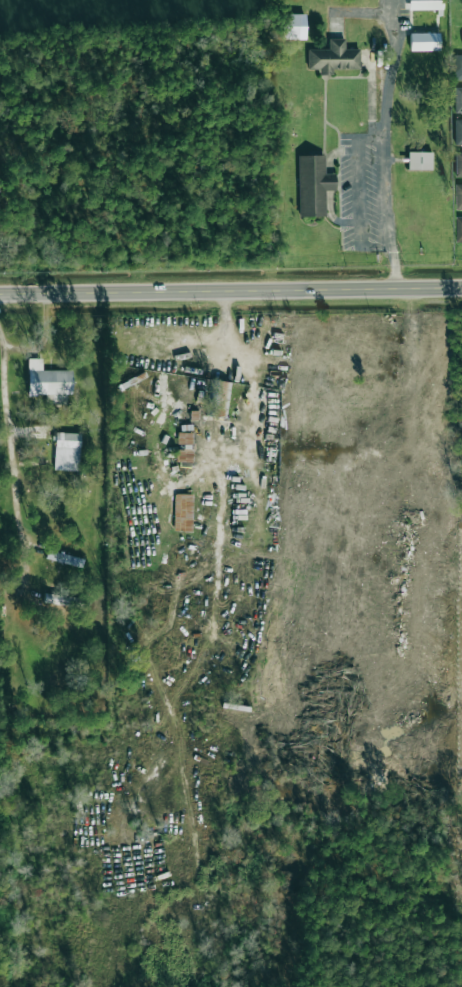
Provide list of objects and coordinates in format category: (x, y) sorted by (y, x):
building: (423, 4)
building: (293, 27)
building: (424, 41)
building: (333, 57)
building: (457, 67)
building: (457, 99)
building: (458, 132)
building: (419, 161)
building: (458, 164)
road: (380, 165)
building: (313, 185)
building: (458, 197)
building: (458, 229)
road: (231, 291)
road: (42, 341)
building: (48, 380)
building: (218, 399)
road: (249, 437)
building: (67, 451)
road: (9, 461)
building: (183, 512)
building: (58, 557)

